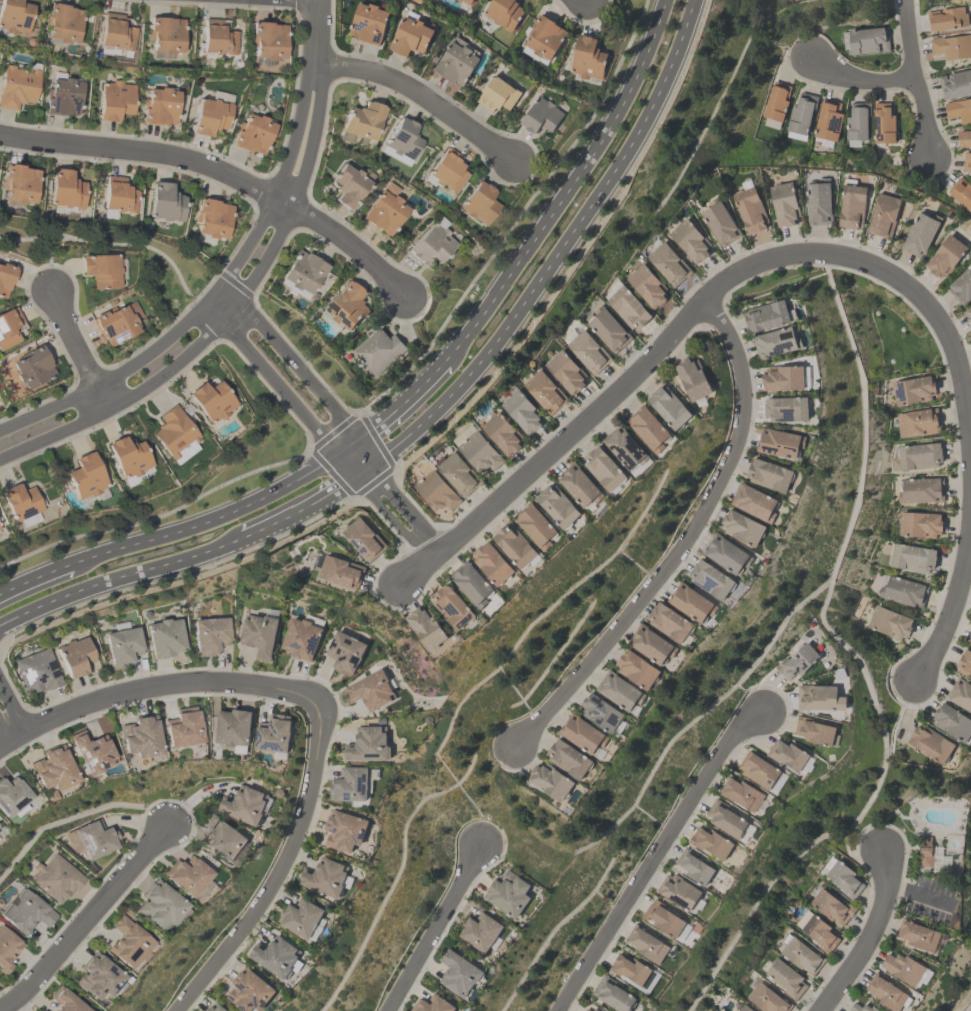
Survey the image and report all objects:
building: (465, 1)
building: (503, 13)
building: (14, 16)
building: (948, 17)
building: (369, 22)
building: (62, 23)
road: (317, 31)
building: (116, 32)
building: (166, 35)
building: (410, 36)
building: (544, 36)
building: (217, 38)
building: (868, 39)
building: (268, 40)
building: (952, 46)
building: (586, 58)
building: (456, 62)
road: (859, 77)
road: (914, 80)
building: (955, 82)
building: (17, 86)
building: (498, 94)
road: (421, 96)
building: (63, 97)
building: (114, 100)
building: (776, 101)
building: (160, 107)
building: (959, 108)
building: (801, 111)
building: (541, 115)
building: (210, 116)
building: (827, 119)
building: (857, 120)
building: (361, 122)
building: (882, 122)
road: (296, 130)
building: (253, 133)
road: (313, 135)
building: (964, 136)
building: (403, 139)
road: (150, 153)
building: (966, 161)
building: (447, 170)
building: (19, 183)
building: (347, 185)
road: (566, 188)
building: (64, 190)
building: (962, 192)
building: (118, 195)
building: (818, 201)
building: (164, 202)
building: (479, 203)
building: (784, 203)
building: (852, 205)
building: (750, 209)
building: (384, 210)
building: (883, 214)
building: (212, 218)
building: (719, 223)
building: (920, 233)
building: (690, 240)
building: (432, 242)
road: (350, 245)
road: (113, 246)
road: (559, 249)
road: (833, 253)
building: (945, 255)
road: (50, 259)
building: (667, 263)
building: (101, 270)
building: (302, 271)
building: (5, 278)
park: (771, 283)
building: (646, 285)
building: (962, 285)
building: (345, 305)
building: (627, 307)
building: (968, 314)
building: (768, 315)
building: (116, 322)
building: (8, 327)
building: (606, 328)
park: (883, 328)
road: (161, 341)
building: (776, 342)
road: (77, 350)
building: (378, 350)
building: (588, 351)
road: (174, 364)
building: (32, 367)
building: (565, 371)
building: (692, 377)
building: (783, 377)
building: (912, 389)
building: (544, 391)
building: (211, 401)
road: (401, 403)
building: (668, 406)
building: (786, 408)
building: (522, 411)
road: (334, 412)
building: (917, 422)
building: (647, 427)
road: (316, 429)
building: (502, 432)
building: (175, 435)
building: (779, 442)
building: (625, 447)
building: (479, 451)
building: (915, 456)
building: (129, 457)
building: (604, 469)
building: (458, 473)
building: (769, 474)
building: (85, 476)
building: (579, 484)
building: (920, 489)
building: (435, 491)
building: (21, 501)
road: (310, 501)
building: (754, 501)
building: (557, 505)
road: (219, 516)
building: (919, 523)
building: (534, 525)
building: (741, 527)
building: (0, 531)
building: (363, 538)
road: (684, 539)
building: (514, 544)
building: (726, 552)
building: (912, 557)
building: (492, 563)
road: (419, 564)
building: (338, 569)
road: (120, 577)
road: (34, 578)
building: (710, 579)
building: (471, 583)
building: (903, 590)
building: (690, 602)
building: (452, 606)
building: (669, 621)
building: (889, 622)
building: (426, 627)
building: (259, 634)
building: (209, 635)
building: (302, 636)
building: (164, 638)
building: (969, 639)
building: (651, 644)
building: (122, 646)
building: (344, 651)
building: (75, 656)
building: (797, 661)
building: (965, 662)
building: (636, 668)
building: (37, 671)
road: (152, 684)
building: (370, 689)
building: (619, 690)
building: (960, 693)
building: (819, 697)
building: (600, 712)
building: (952, 721)
road: (6, 723)
building: (183, 727)
building: (233, 727)
building: (814, 730)
building: (582, 733)
building: (272, 734)
building: (140, 737)
building: (930, 743)
building: (367, 744)
building: (90, 752)
building: (788, 753)
building: (568, 758)
building: (52, 768)
building: (758, 769)
building: (551, 781)
building: (352, 783)
building: (741, 793)
building: (11, 796)
building: (244, 804)
building: (726, 818)
building: (343, 829)
building: (0, 831)
building: (92, 838)
building: (223, 841)
building: (710, 841)
road: (653, 855)
building: (693, 865)
road: (279, 868)
building: (185, 875)
building: (325, 876)
building: (842, 877)
building: (56, 878)
building: (678, 891)
building: (508, 892)
road: (918, 894)
building: (159, 906)
building: (831, 906)
building: (27, 912)
building: (301, 917)
building: (662, 917)
road: (87, 920)
road: (433, 928)
building: (816, 930)
building: (479, 931)
building: (917, 933)
road: (868, 934)
building: (127, 943)
building: (646, 943)
building: (7, 949)
building: (800, 954)
building: (276, 956)
building: (903, 967)
building: (629, 968)
building: (458, 972)
building: (98, 977)
building: (785, 977)
building: (249, 990)
building: (886, 992)
building: (612, 994)
building: (767, 998)
building: (65, 1001)
building: (432, 1004)
building: (215, 1007)
building: (861, 1007)
building: (745, 1008)
building: (586, 1009)
building: (594, 1009)

